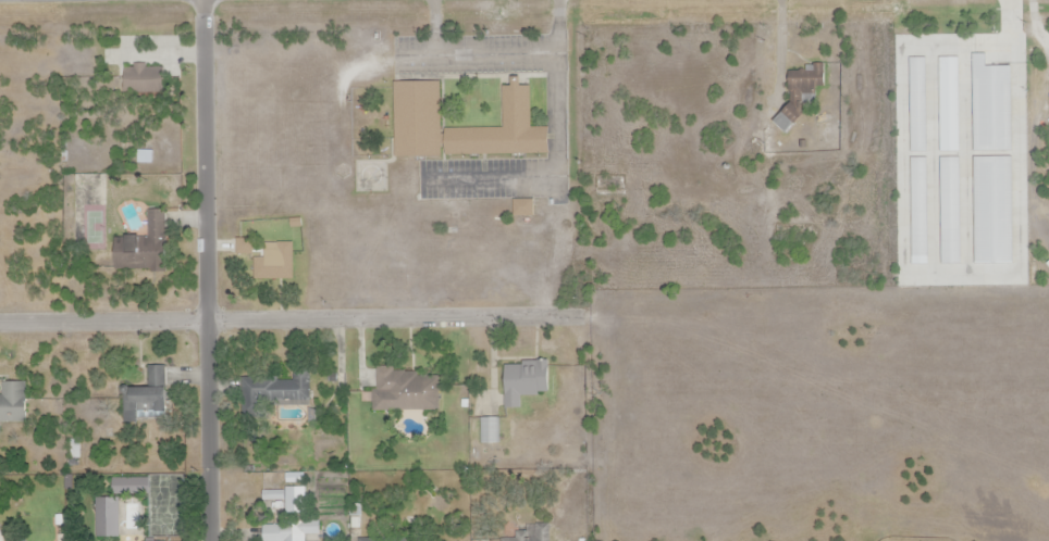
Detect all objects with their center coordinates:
building: (145, 79)
building: (793, 97)
building: (917, 104)
building: (948, 106)
building: (990, 108)
building: (416, 119)
building: (506, 129)
building: (522, 210)
building: (950, 211)
building: (992, 211)
building: (918, 213)
building: (144, 246)
building: (247, 247)
building: (272, 263)
road: (207, 270)
road: (286, 319)
building: (528, 382)
building: (276, 390)
building: (404, 392)
building: (151, 393)
building: (14, 402)
building: (288, 492)
building: (108, 518)
building: (293, 532)
building: (542, 533)
building: (3, 538)
building: (400, 540)

